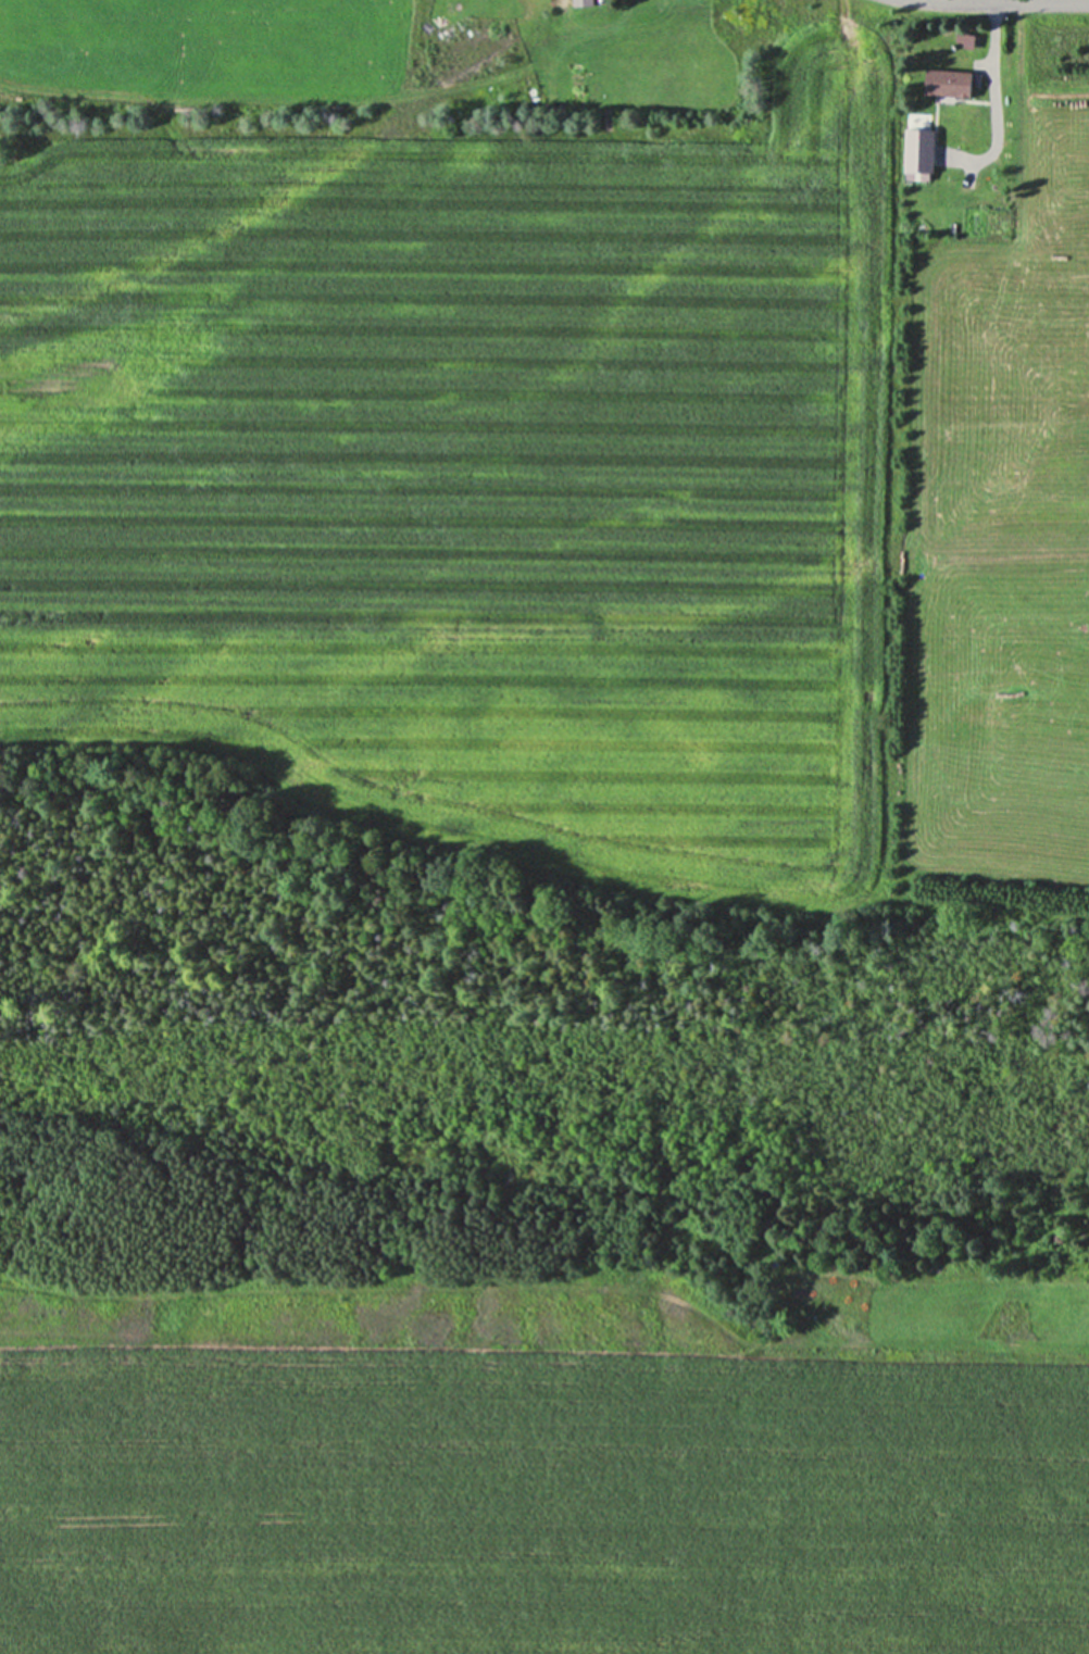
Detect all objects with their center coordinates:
road: (996, 3)
building: (942, 84)
road: (994, 91)
building: (915, 151)

